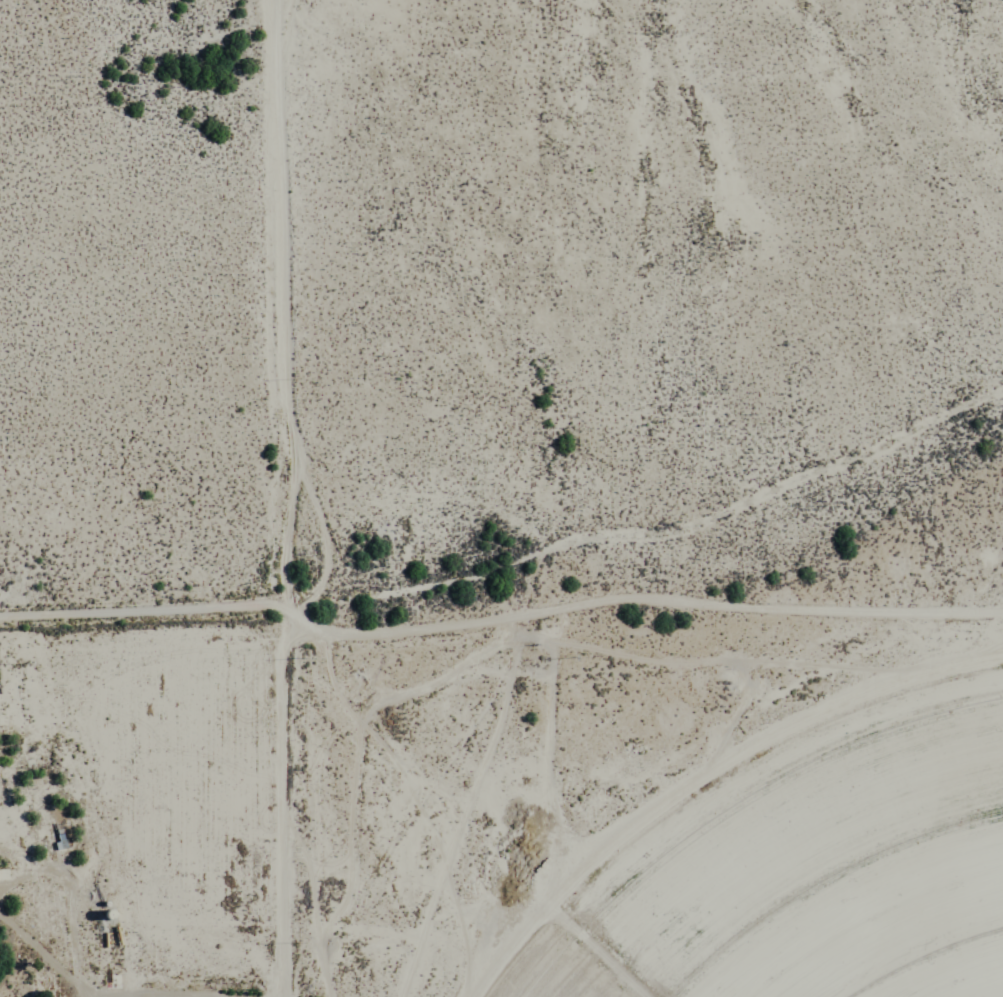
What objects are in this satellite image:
road: (267, 498)
road: (634, 590)
road: (134, 603)
crop: (824, 887)
building: (168, 996)

